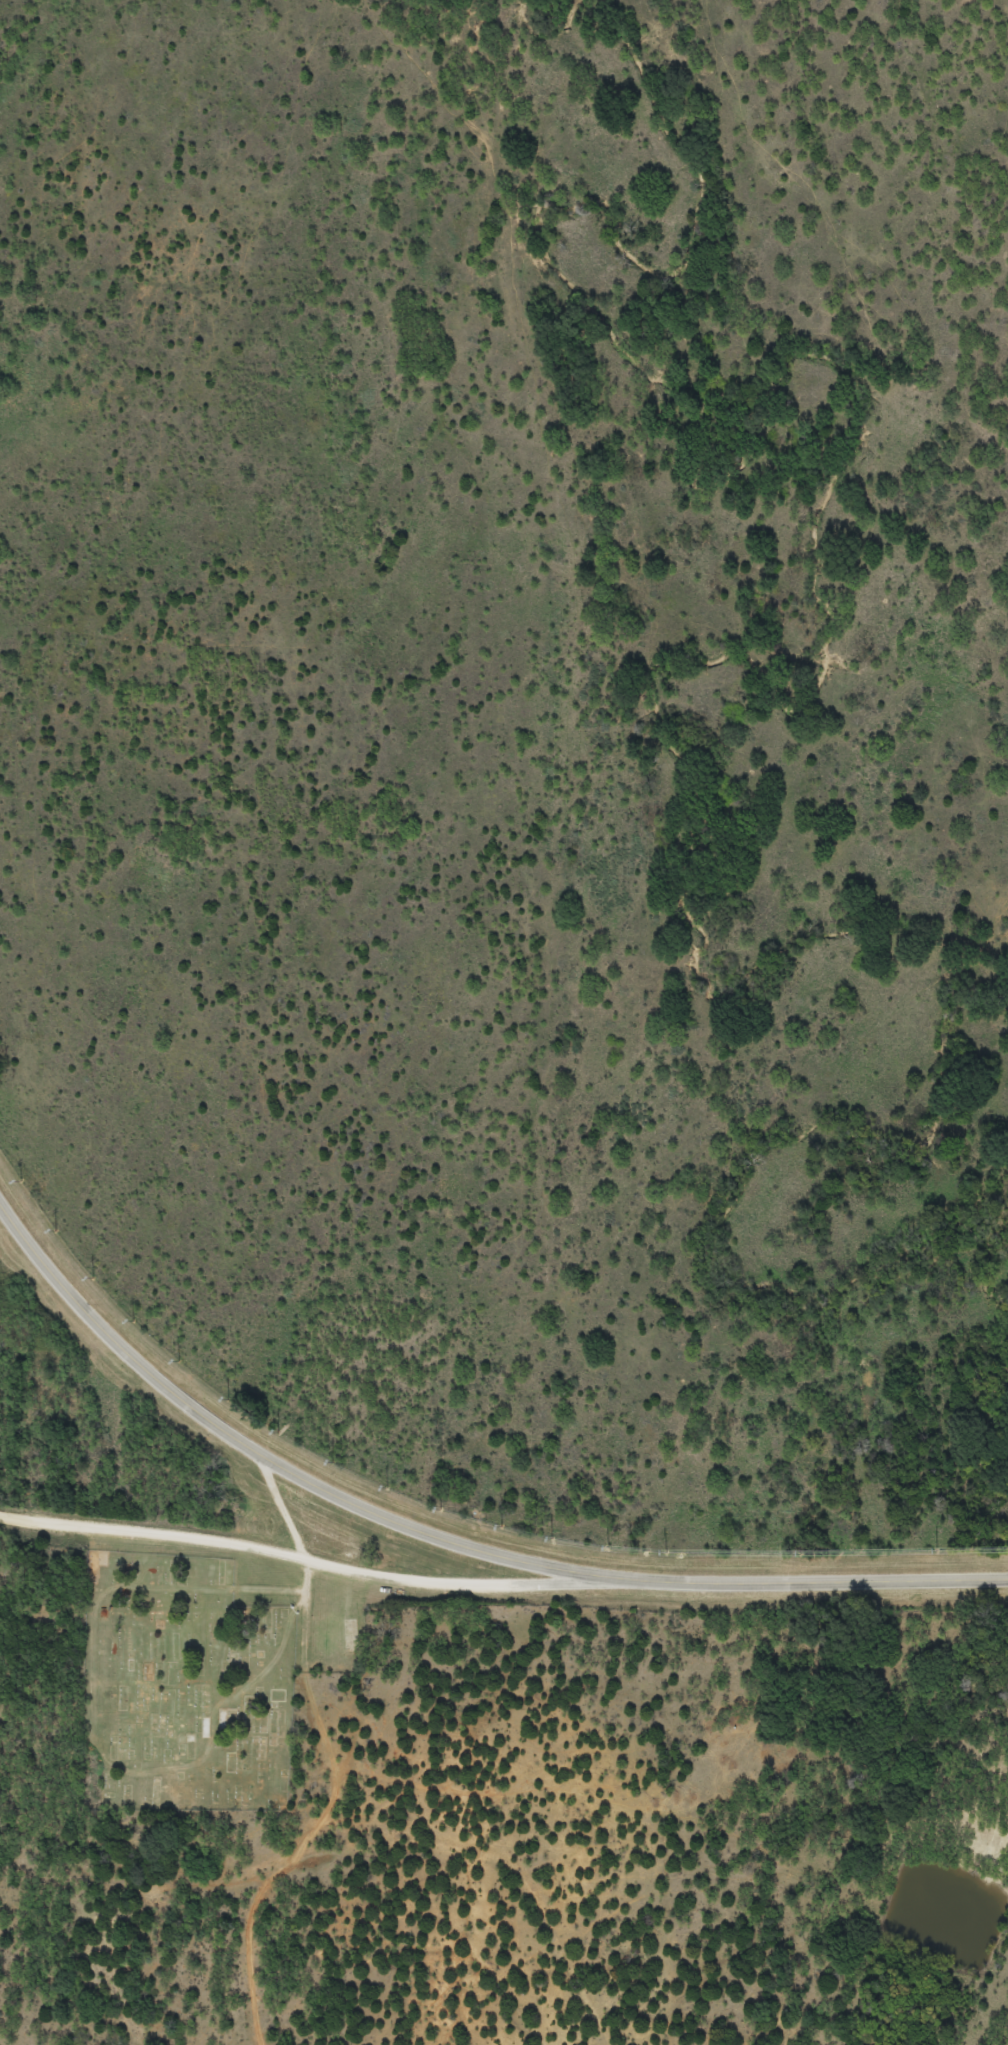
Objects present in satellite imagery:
road: (443, 1539)
road: (329, 1562)
park: (185, 1685)

